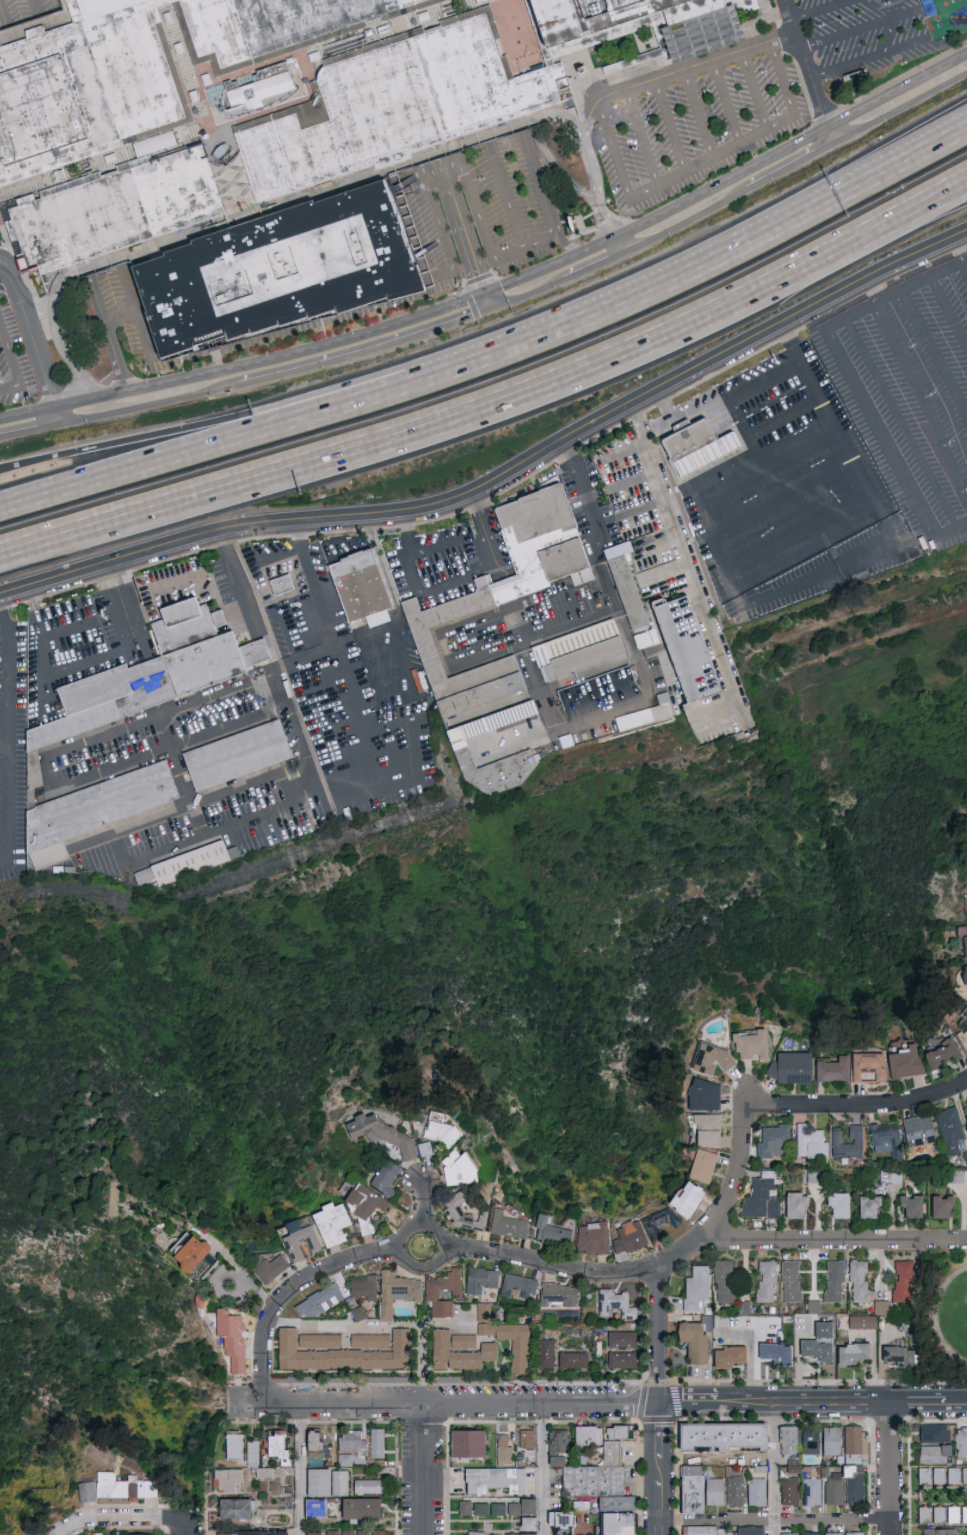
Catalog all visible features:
road: (825, 12)
parking lot: (25, 13)
road: (45, 17)
road: (7, 22)
building: (645, 22)
road: (860, 30)
parking lot: (863, 35)
road: (545, 59)
road: (869, 59)
road: (186, 63)
road: (803, 63)
building: (143, 68)
road: (248, 72)
road: (896, 88)
road: (757, 90)
building: (262, 92)
road: (621, 92)
road: (790, 94)
road: (724, 104)
building: (394, 109)
road: (900, 109)
road: (270, 113)
road: (698, 115)
road: (669, 127)
parking lot: (698, 129)
road: (829, 136)
road: (641, 139)
road: (713, 159)
road: (617, 167)
road: (791, 168)
road: (560, 172)
road: (229, 173)
road: (542, 184)
road: (511, 198)
parking lot: (510, 201)
building: (115, 211)
road: (895, 212)
road: (658, 215)
road: (461, 220)
road: (482, 221)
road: (686, 222)
road: (895, 223)
road: (445, 238)
road: (567, 243)
road: (962, 250)
road: (2, 251)
road: (593, 266)
road: (696, 266)
building: (281, 270)
parking lot: (439, 279)
road: (924, 279)
road: (131, 290)
road: (528, 294)
road: (489, 301)
road: (38, 308)
road: (862, 308)
road: (949, 310)
road: (139, 315)
road: (105, 337)
road: (31, 341)
road: (64, 341)
road: (366, 351)
road: (157, 355)
road: (934, 356)
road: (245, 364)
parking lot: (13, 369)
road: (13, 370)
road: (721, 395)
road: (923, 400)
road: (147, 406)
road: (784, 419)
road: (902, 422)
road: (419, 424)
road: (206, 425)
road: (27, 429)
road: (881, 432)
road: (207, 442)
building: (703, 451)
road: (621, 452)
road: (729, 474)
road: (503, 476)
road: (621, 483)
road: (777, 483)
road: (788, 507)
road: (630, 509)
road: (484, 528)
road: (951, 530)
road: (407, 532)
road: (789, 534)
road: (656, 536)
road: (437, 543)
road: (689, 564)
road: (440, 585)
road: (153, 587)
building: (283, 587)
building: (362, 589)
building: (509, 602)
road: (326, 619)
building: (647, 637)
road: (486, 649)
building: (583, 656)
road: (64, 671)
road: (270, 672)
road: (688, 673)
road: (215, 693)
road: (638, 703)
road: (5, 732)
road: (519, 739)
road: (2, 740)
building: (46, 743)
building: (465, 750)
building: (240, 759)
road: (94, 769)
road: (189, 797)
road: (151, 818)
building: (191, 861)
building: (145, 874)
building: (964, 906)
building: (964, 946)
building: (966, 978)
building: (964, 1032)
building: (964, 1038)
building: (960, 1039)
building: (754, 1046)
building: (946, 1055)
building: (715, 1061)
building: (908, 1064)
building: (871, 1068)
building: (793, 1070)
building: (835, 1071)
road: (744, 1096)
building: (707, 1097)
building: (965, 1105)
building: (708, 1131)
building: (953, 1131)
building: (443, 1132)
building: (922, 1132)
building: (384, 1135)
building: (889, 1141)
building: (776, 1142)
building: (838, 1142)
building: (813, 1144)
building: (422, 1148)
building: (427, 1151)
building: (966, 1154)
building: (705, 1167)
building: (461, 1171)
building: (958, 1177)
building: (816, 1178)
building: (893, 1178)
building: (388, 1180)
road: (727, 1194)
building: (765, 1198)
road: (421, 1200)
building: (691, 1202)
building: (115, 1203)
building: (367, 1207)
building: (798, 1207)
building: (842, 1207)
building: (872, 1208)
building: (915, 1208)
building: (945, 1209)
building: (465, 1215)
building: (662, 1224)
building: (333, 1225)
building: (511, 1227)
building: (555, 1234)
building: (632, 1239)
road: (832, 1239)
building: (596, 1240)
building: (300, 1241)
building: (197, 1260)
road: (882, 1267)
road: (421, 1268)
building: (272, 1270)
building: (483, 1281)
building: (905, 1281)
building: (726, 1282)
building: (769, 1282)
building: (793, 1282)
building: (836, 1282)
building: (861, 1283)
building: (520, 1287)
road: (287, 1289)
building: (698, 1289)
building: (367, 1290)
building: (434, 1293)
building: (399, 1294)
building: (561, 1296)
building: (203, 1301)
building: (322, 1303)
building: (618, 1306)
building: (815, 1307)
building: (745, 1308)
building: (883, 1308)
road: (941, 1313)
building: (359, 1314)
building: (486, 1314)
park: (948, 1317)
building: (865, 1323)
road: (368, 1324)
building: (818, 1328)
road: (659, 1333)
building: (698, 1339)
building: (624, 1341)
building: (322, 1342)
building: (372, 1342)
building: (466, 1342)
building: (234, 1343)
building: (822, 1343)
building: (514, 1344)
building: (599, 1349)
building: (462, 1354)
building: (778, 1354)
building: (855, 1354)
building: (548, 1355)
building: (346, 1356)
building: (731, 1357)
building: (903, 1357)
building: (624, 1361)
building: (576, 1362)
road: (420, 1364)
road: (874, 1369)
road: (919, 1403)
road: (956, 1403)
road: (459, 1404)
road: (806, 1404)
road: (691, 1405)
building: (931, 1432)
road: (661, 1433)
building: (589, 1436)
building: (720, 1436)
building: (528, 1439)
building: (856, 1440)
building: (789, 1441)
building: (832, 1441)
building: (960, 1441)
building: (811, 1442)
building: (316, 1443)
building: (377, 1443)
building: (462, 1443)
building: (235, 1445)
building: (278, 1445)
building: (351, 1446)
building: (478, 1447)
building: (501, 1449)
building: (253, 1453)
building: (930, 1453)
road: (892, 1468)
road: (300, 1469)
road: (425, 1469)
road: (545, 1469)
building: (596, 1470)
road: (661, 1470)
road: (775, 1470)
building: (963, 1474)
building: (921, 1475)
building: (935, 1475)
building: (950, 1475)
building: (227, 1480)
building: (492, 1481)
building: (319, 1482)
building: (341, 1483)
building: (855, 1485)
building: (369, 1486)
building: (125, 1487)
building: (697, 1489)
building: (834, 1489)
building: (736, 1491)
building: (757, 1491)
building: (790, 1491)
building: (87, 1492)
building: (812, 1492)
road: (661, 1502)
building: (361, 1508)
building: (527, 1508)
building: (236, 1509)
building: (462, 1510)
building: (478, 1511)
building: (496, 1511)
building: (512, 1511)
road: (123, 1513)
building: (920, 1514)
building: (935, 1514)
building: (950, 1514)
building: (963, 1514)
building: (561, 1519)
building: (617, 1524)
road: (776, 1524)
building: (527, 1525)
road: (189, 1526)
road: (660, 1530)
building: (704, 1530)
building: (750, 1530)
road: (73, 1531)
building: (937, 1531)
building: (332, 1532)
building: (348, 1532)
building: (363, 1532)
building: (378, 1532)
building: (254, 1533)
building: (314, 1533)
building: (516, 1533)
building: (790, 1533)
building: (812, 1533)
building: (854, 1533)
building: (92, 1534)
building: (144, 1534)
building: (474, 1534)
building: (833, 1534)

